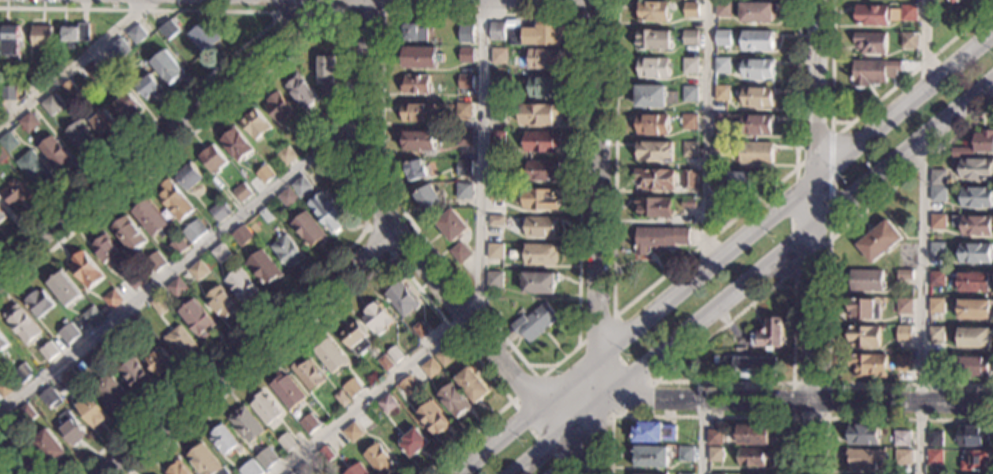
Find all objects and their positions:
road: (541, 1)
building: (954, 1)
road: (117, 5)
building: (722, 9)
building: (691, 10)
building: (654, 12)
building: (756, 12)
road: (308, 13)
road: (363, 13)
building: (908, 13)
road: (590, 15)
building: (871, 15)
building: (167, 29)
building: (414, 32)
building: (497, 32)
building: (76, 33)
building: (136, 34)
building: (467, 34)
building: (537, 34)
building: (41, 36)
building: (203, 36)
building: (691, 37)
building: (722, 38)
building: (654, 40)
building: (909, 40)
building: (172, 41)
building: (757, 41)
road: (924, 41)
building: (870, 42)
building: (8, 43)
road: (244, 47)
building: (117, 50)
building: (466, 55)
building: (498, 56)
building: (422, 58)
building: (544, 59)
building: (690, 65)
building: (722, 65)
road: (73, 67)
building: (167, 67)
building: (653, 67)
building: (758, 69)
building: (90, 70)
building: (874, 72)
building: (327, 73)
building: (31, 75)
building: (465, 82)
building: (497, 84)
building: (415, 85)
building: (148, 87)
building: (544, 87)
building: (70, 88)
road: (346, 88)
building: (300, 91)
building: (8, 93)
building: (690, 93)
building: (722, 93)
building: (650, 96)
building: (757, 97)
building: (51, 104)
building: (126, 104)
building: (277, 106)
road: (866, 108)
building: (463, 111)
building: (497, 112)
building: (418, 113)
building: (538, 114)
building: (328, 118)
building: (689, 121)
building: (721, 121)
building: (103, 122)
building: (28, 123)
building: (255, 123)
building: (652, 124)
building: (753, 124)
road: (706, 133)
building: (307, 135)
building: (79, 136)
road: (163, 137)
building: (464, 138)
building: (497, 139)
building: (419, 141)
building: (8, 142)
building: (542, 142)
building: (237, 144)
building: (976, 145)
building: (720, 147)
building: (690, 149)
building: (654, 151)
building: (56, 153)
building: (755, 153)
building: (285, 155)
building: (2, 156)
building: (212, 159)
building: (496, 167)
building: (463, 168)
building: (974, 168)
building: (34, 169)
building: (415, 170)
building: (543, 171)
building: (264, 174)
building: (189, 176)
building: (938, 178)
building: (656, 179)
building: (689, 179)
road: (830, 180)
building: (737, 181)
building: (300, 186)
building: (464, 191)
road: (795, 191)
building: (15, 192)
building: (242, 192)
building: (497, 194)
building: (938, 194)
building: (287, 197)
building: (428, 198)
building: (976, 198)
building: (539, 199)
building: (175, 200)
building: (689, 203)
building: (720, 203)
building: (654, 207)
building: (218, 211)
building: (326, 212)
building: (265, 215)
building: (2, 216)
building: (151, 219)
building: (496, 220)
building: (938, 221)
building: (451, 224)
building: (973, 225)
building: (541, 227)
building: (308, 229)
building: (193, 232)
road: (365, 232)
building: (129, 234)
building: (242, 236)
road: (814, 236)
road: (598, 237)
building: (660, 238)
building: (879, 241)
road: (378, 242)
building: (178, 246)
road: (406, 246)
building: (286, 250)
building: (937, 250)
building: (108, 251)
building: (495, 251)
building: (221, 252)
building: (975, 252)
building: (460, 253)
road: (724, 253)
building: (541, 254)
building: (155, 261)
road: (799, 262)
road: (180, 265)
building: (264, 267)
building: (86, 269)
road: (376, 269)
building: (198, 270)
road: (754, 275)
building: (904, 275)
building: (937, 278)
building: (134, 279)
building: (495, 280)
building: (867, 280)
building: (975, 281)
building: (539, 283)
road: (479, 284)
building: (241, 285)
building: (177, 288)
road: (828, 288)
building: (65, 289)
road: (645, 292)
building: (113, 299)
building: (401, 299)
building: (39, 302)
building: (222, 302)
road: (923, 304)
building: (159, 305)
building: (936, 305)
building: (904, 306)
building: (863, 308)
building: (973, 309)
road: (578, 312)
building: (92, 315)
building: (197, 318)
building: (376, 318)
building: (136, 322)
building: (22, 323)
building: (535, 323)
building: (420, 330)
building: (906, 330)
building: (69, 333)
road: (595, 333)
building: (769, 334)
building: (936, 334)
building: (864, 336)
building: (975, 337)
building: (355, 338)
building: (179, 340)
building: (3, 341)
building: (107, 348)
building: (742, 350)
building: (50, 351)
road: (250, 354)
building: (395, 354)
road: (599, 355)
building: (330, 356)
building: (444, 356)
building: (91, 360)
building: (159, 361)
building: (385, 362)
building: (934, 362)
building: (903, 363)
building: (870, 365)
building: (430, 367)
building: (749, 367)
building: (974, 367)
building: (23, 372)
road: (530, 373)
road: (546, 373)
building: (135, 374)
building: (308, 374)
building: (70, 379)
road: (706, 383)
building: (408, 385)
building: (472, 385)
building: (5, 387)
building: (352, 387)
building: (287, 391)
road: (523, 391)
building: (113, 393)
road: (784, 397)
building: (50, 398)
building: (342, 398)
building: (454, 400)
building: (387, 403)
building: (264, 408)
building: (91, 411)
building: (25, 414)
road: (701, 417)
building: (432, 418)
road: (825, 418)
road: (881, 418)
building: (309, 423)
building: (247, 424)
building: (70, 428)
building: (352, 432)
building: (654, 432)
road: (702, 434)
building: (864, 434)
building: (754, 435)
road: (590, 436)
building: (974, 436)
building: (715, 437)
building: (902, 438)
building: (934, 438)
building: (223, 439)
building: (286, 441)
building: (413, 442)
road: (23, 444)
building: (49, 446)
building: (326, 453)
building: (686, 454)
building: (716, 454)
building: (650, 456)
building: (753, 456)
building: (935, 456)
building: (266, 457)
building: (903, 457)
road: (11, 459)
building: (380, 459)
building: (866, 459)
building: (977, 459)
building: (204, 461)
road: (556, 464)
building: (179, 468)
building: (254, 468)
building: (304, 469)
building: (357, 469)
building: (290, 473)
building: (292, 473)
building: (659, 473)
building: (684, 473)

